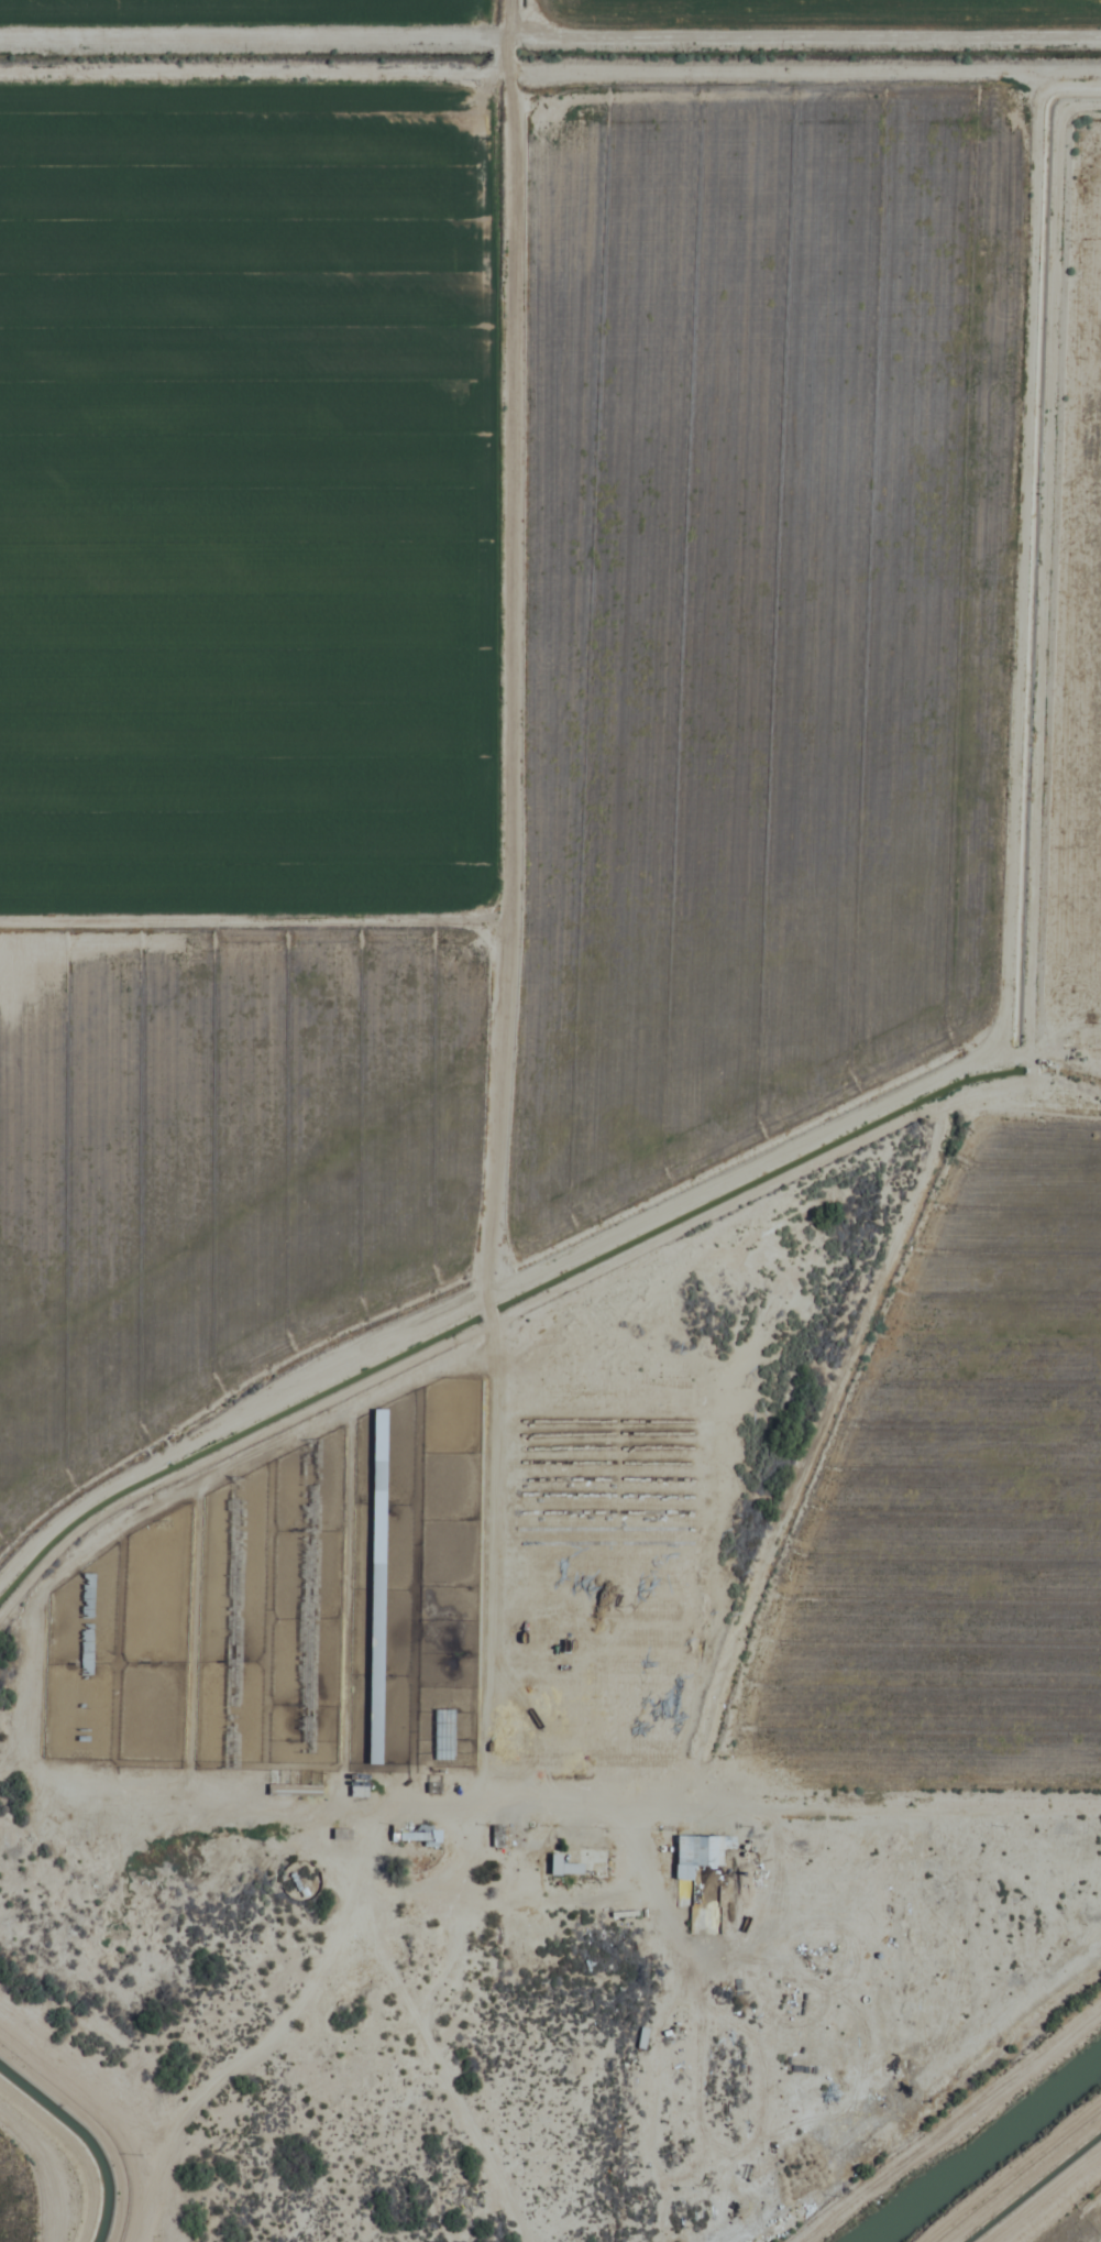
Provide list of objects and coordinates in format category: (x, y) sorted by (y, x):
crop: (553, 892)
building: (439, 1565)
building: (374, 1586)
building: (84, 1628)
building: (416, 1836)
building: (696, 1852)
building: (561, 1868)
building: (639, 2038)

